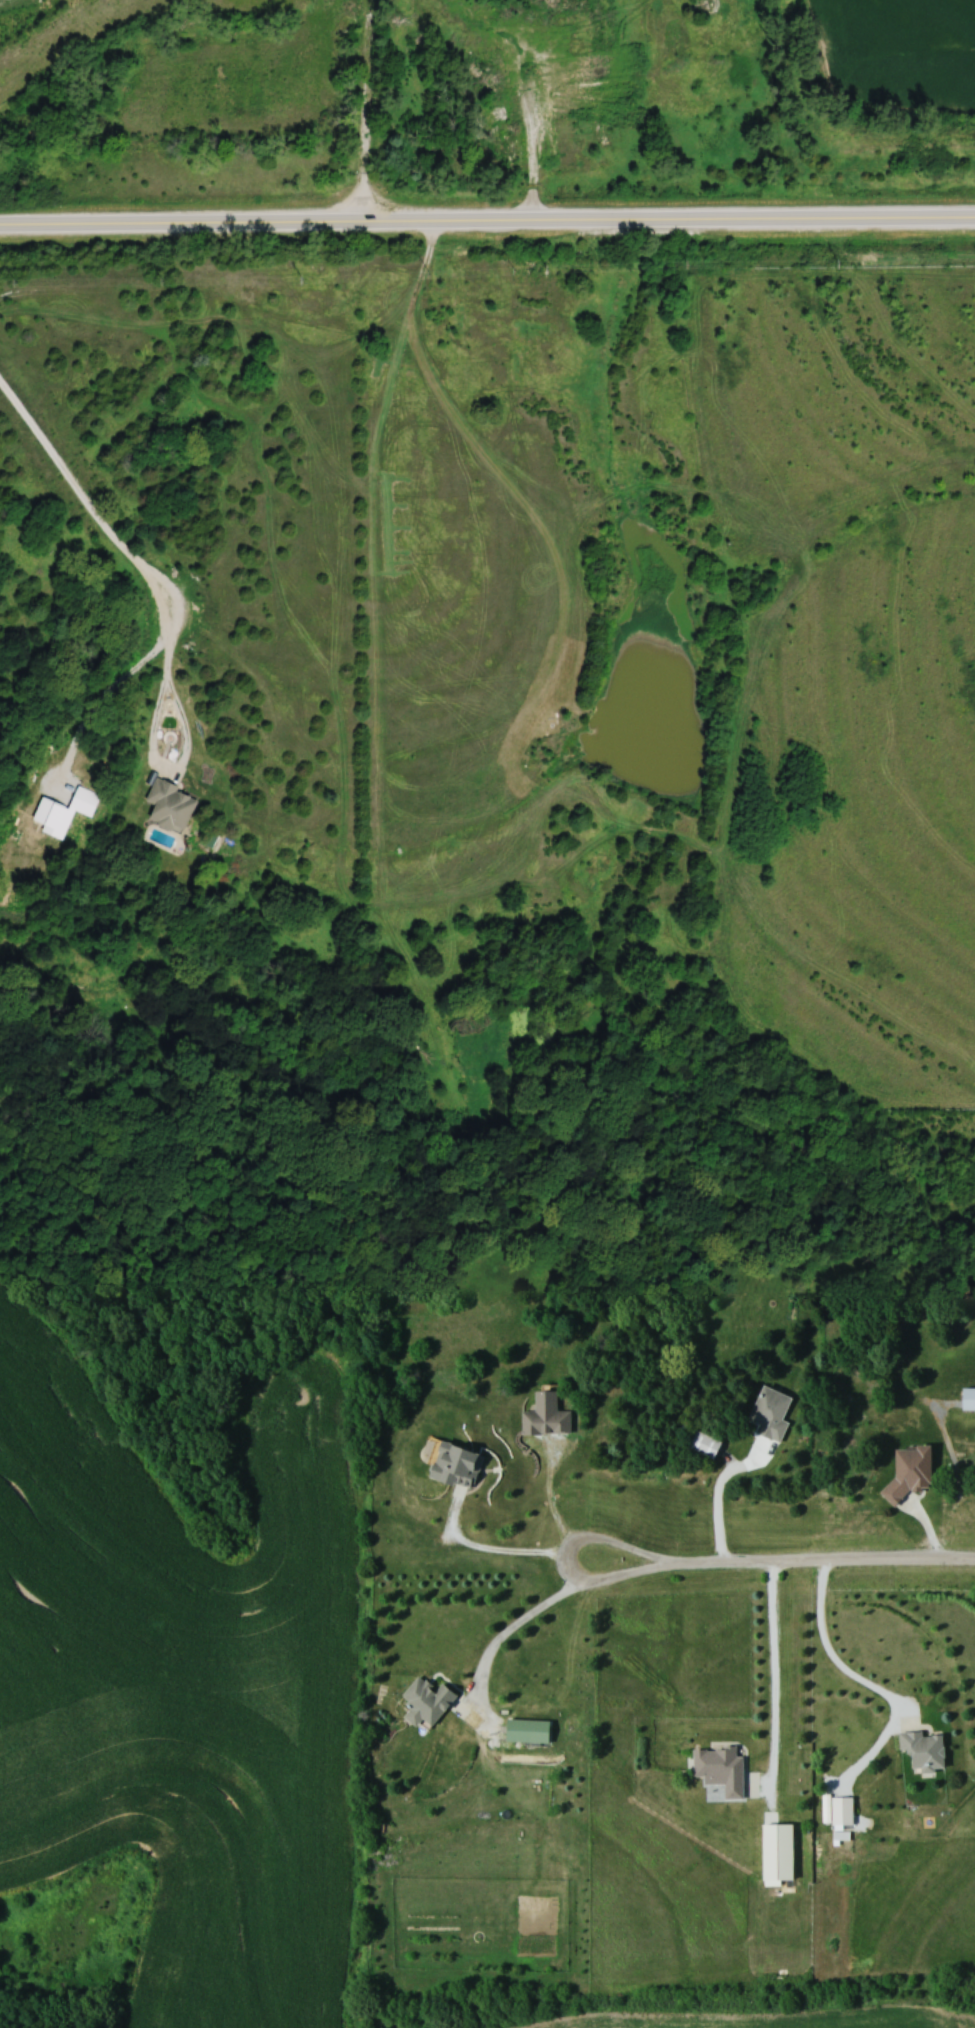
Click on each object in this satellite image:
building: (585, 4)
building: (703, 6)
building: (481, 119)
building: (581, 128)
road: (538, 150)
building: (485, 152)
road: (487, 221)
road: (147, 566)
road: (100, 693)
building: (165, 802)
building: (766, 1413)
building: (541, 1415)
building: (701, 1442)
building: (449, 1461)
building: (905, 1471)
road: (717, 1492)
road: (484, 1545)
road: (563, 1555)
road: (817, 1559)
road: (497, 1638)
road: (772, 1674)
road: (866, 1681)
building: (421, 1700)
building: (521, 1730)
building: (917, 1750)
building: (714, 1769)
building: (837, 1811)
building: (771, 1853)

